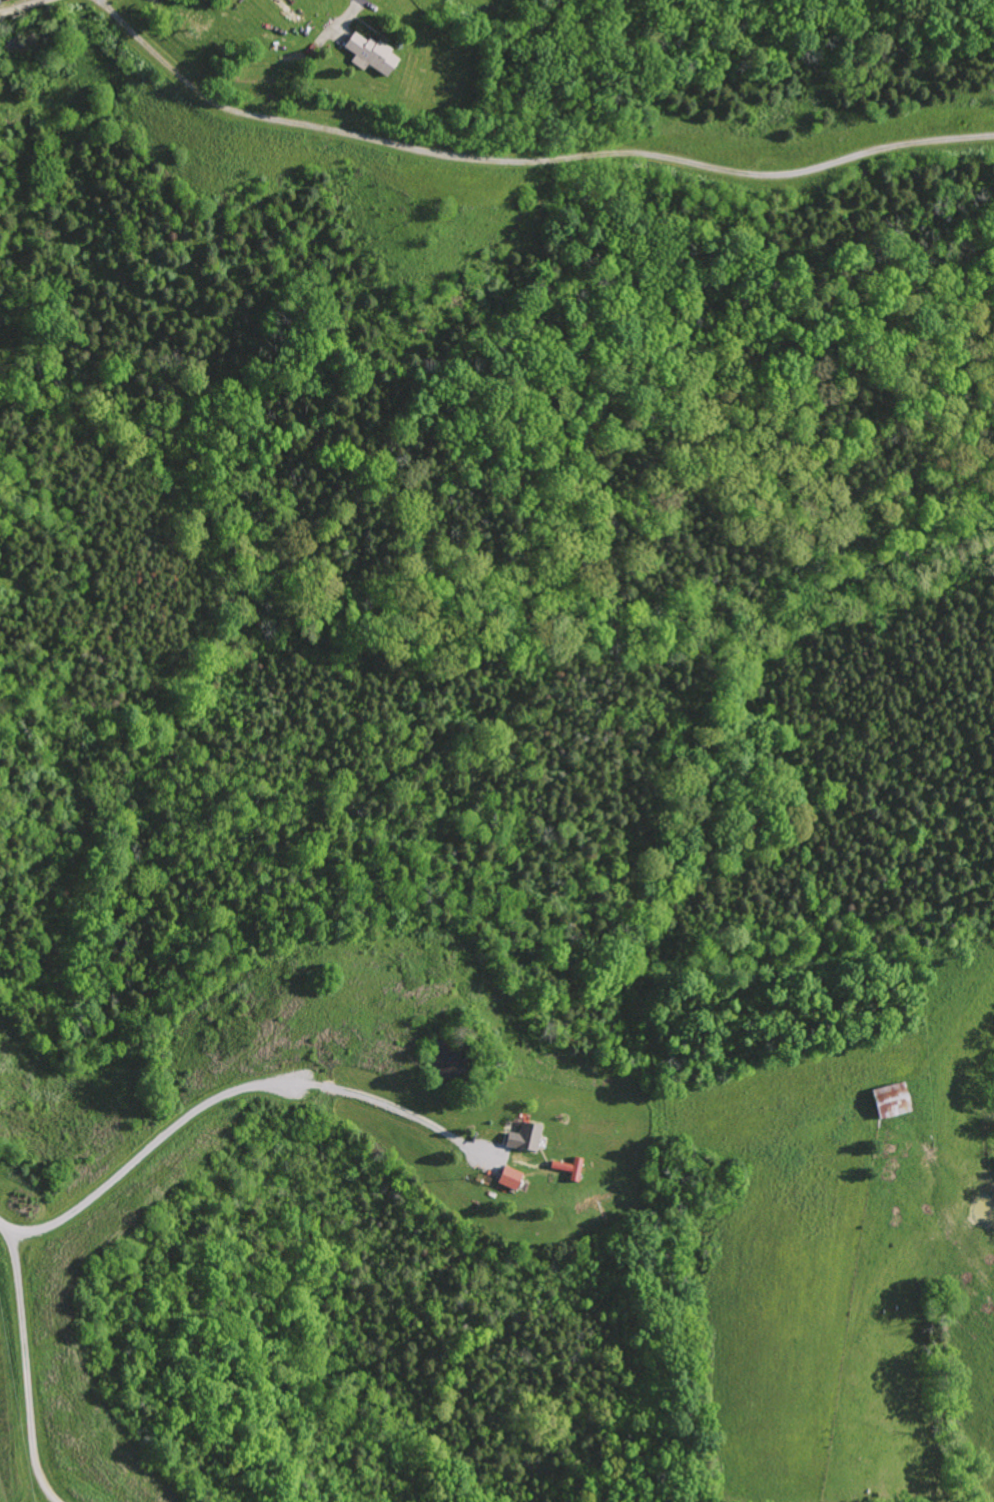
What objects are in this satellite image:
road: (21, 8)
road: (349, 10)
building: (367, 54)
road: (527, 160)
building: (887, 1101)
road: (391, 1106)
building: (521, 1136)
road: (150, 1150)
building: (506, 1177)
road: (22, 1362)

